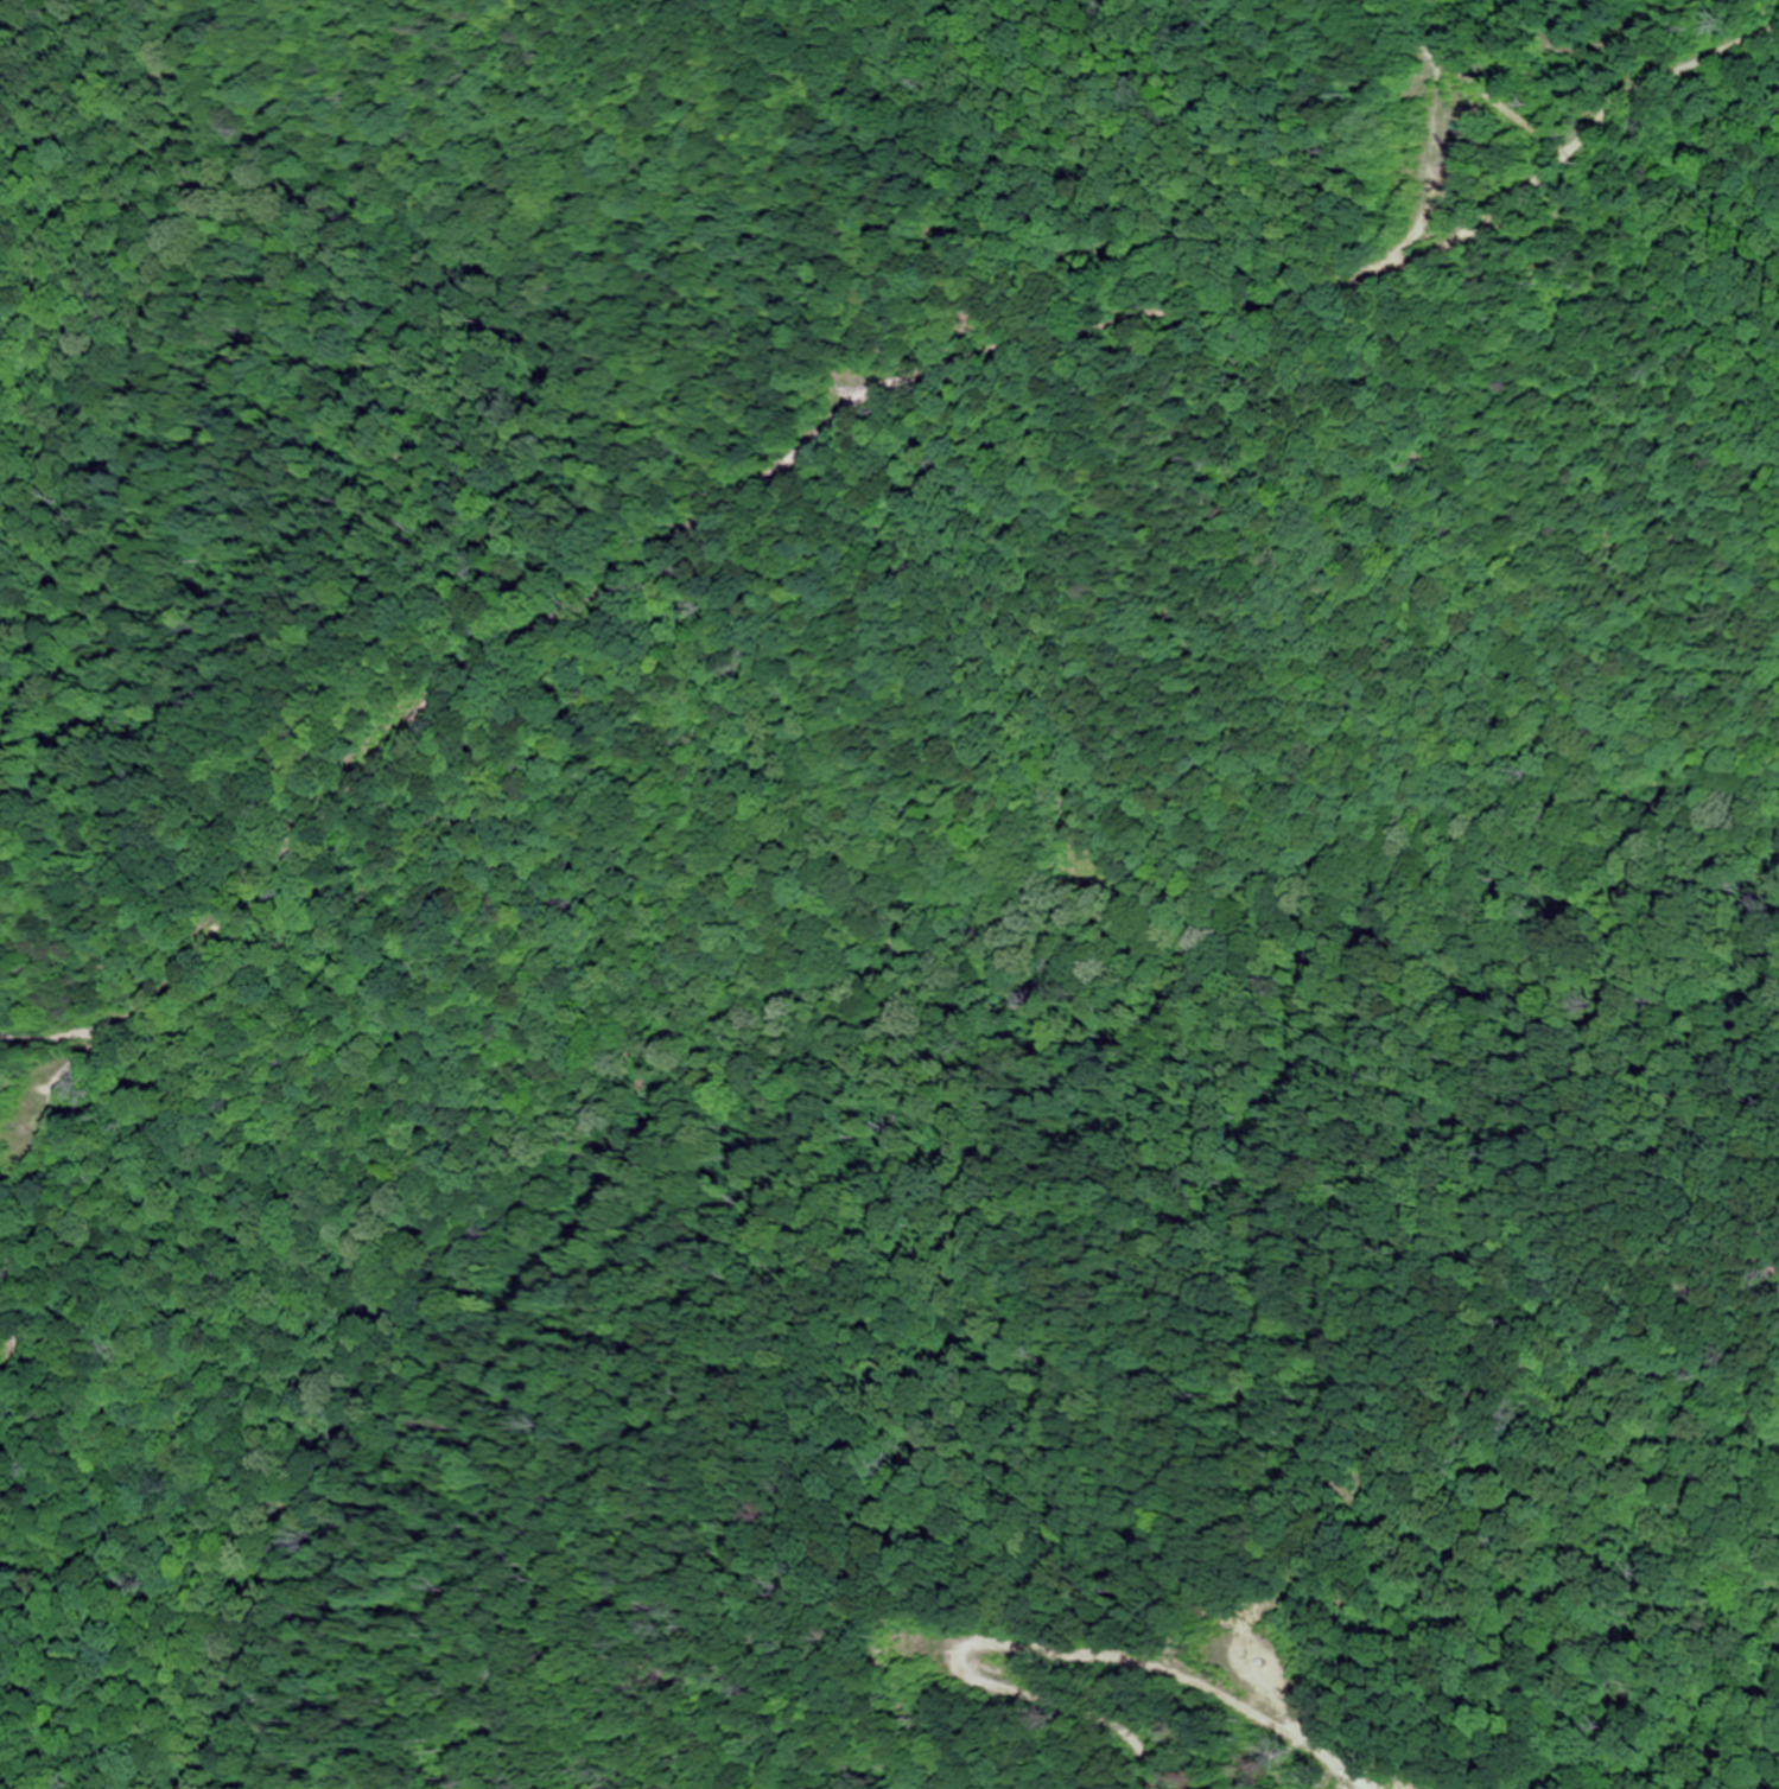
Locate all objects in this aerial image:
road: (830, 426)

